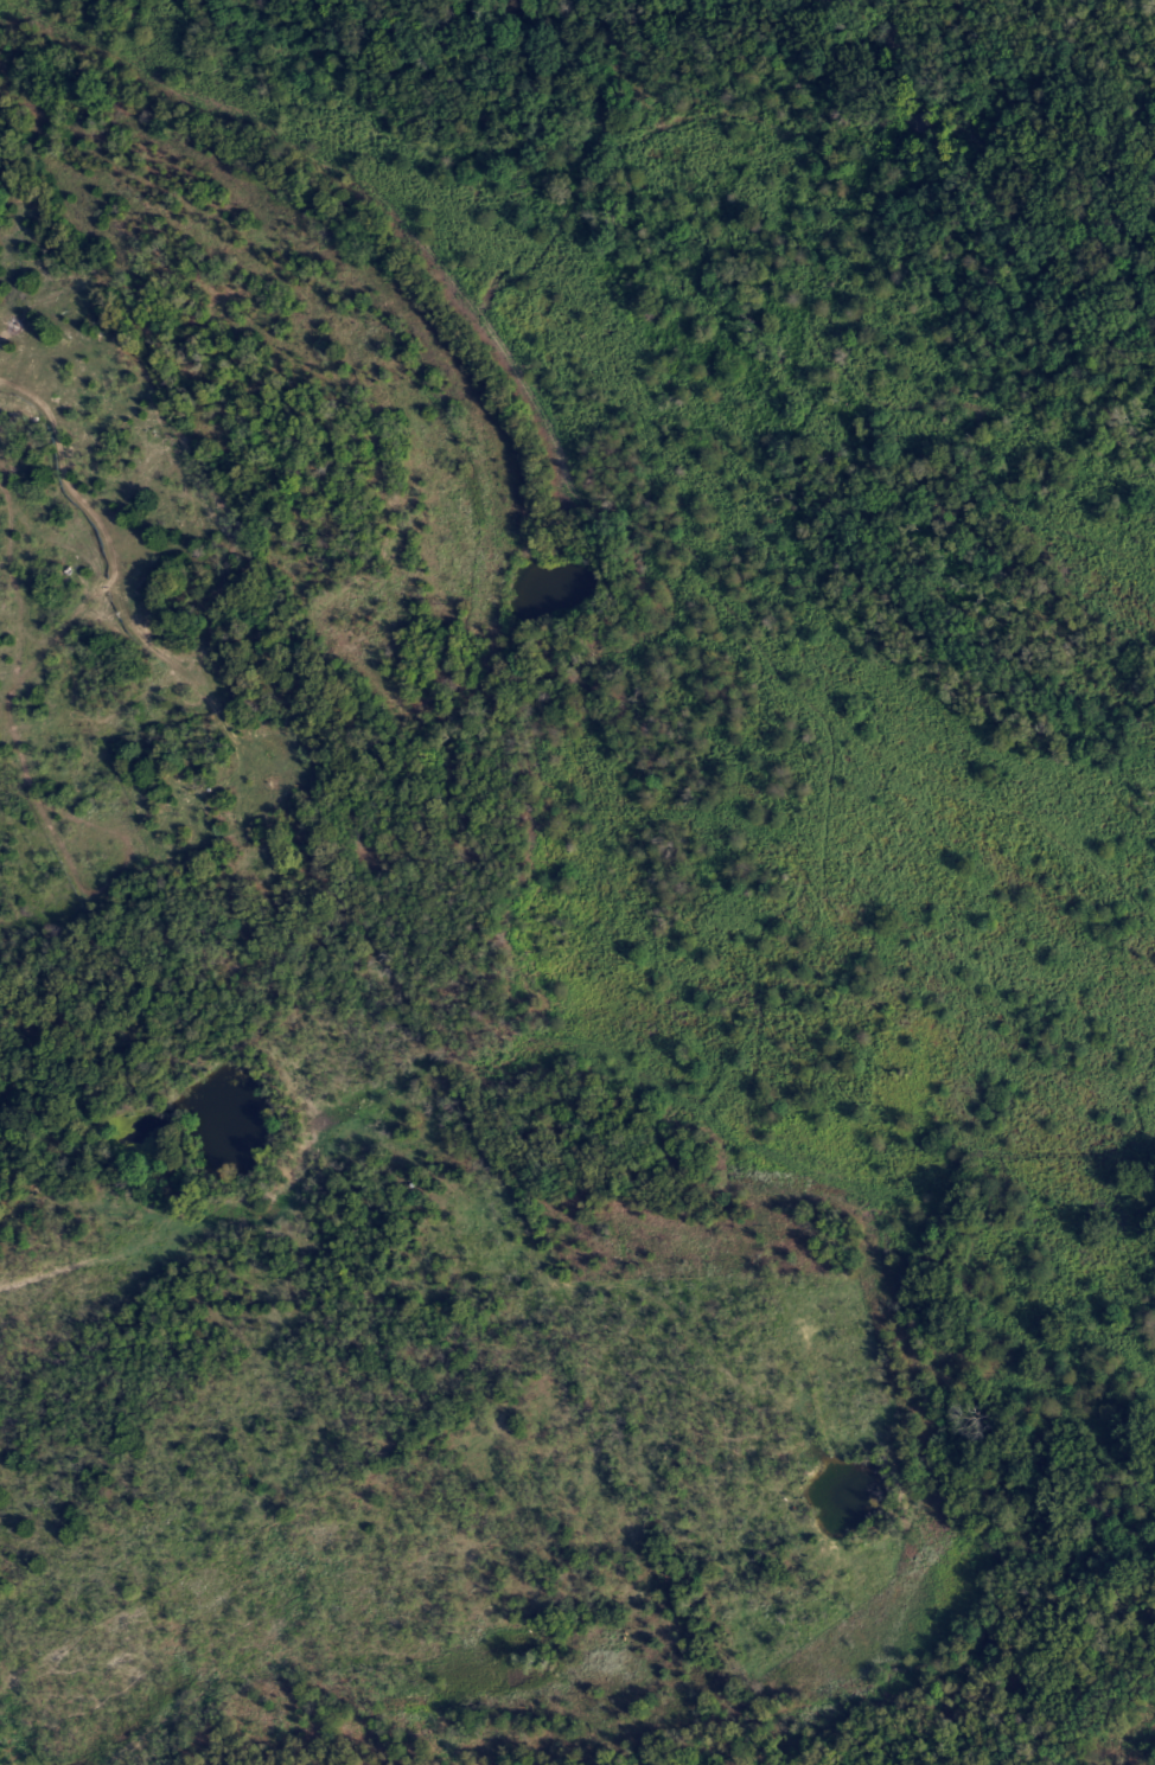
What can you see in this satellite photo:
road: (1026, 71)

